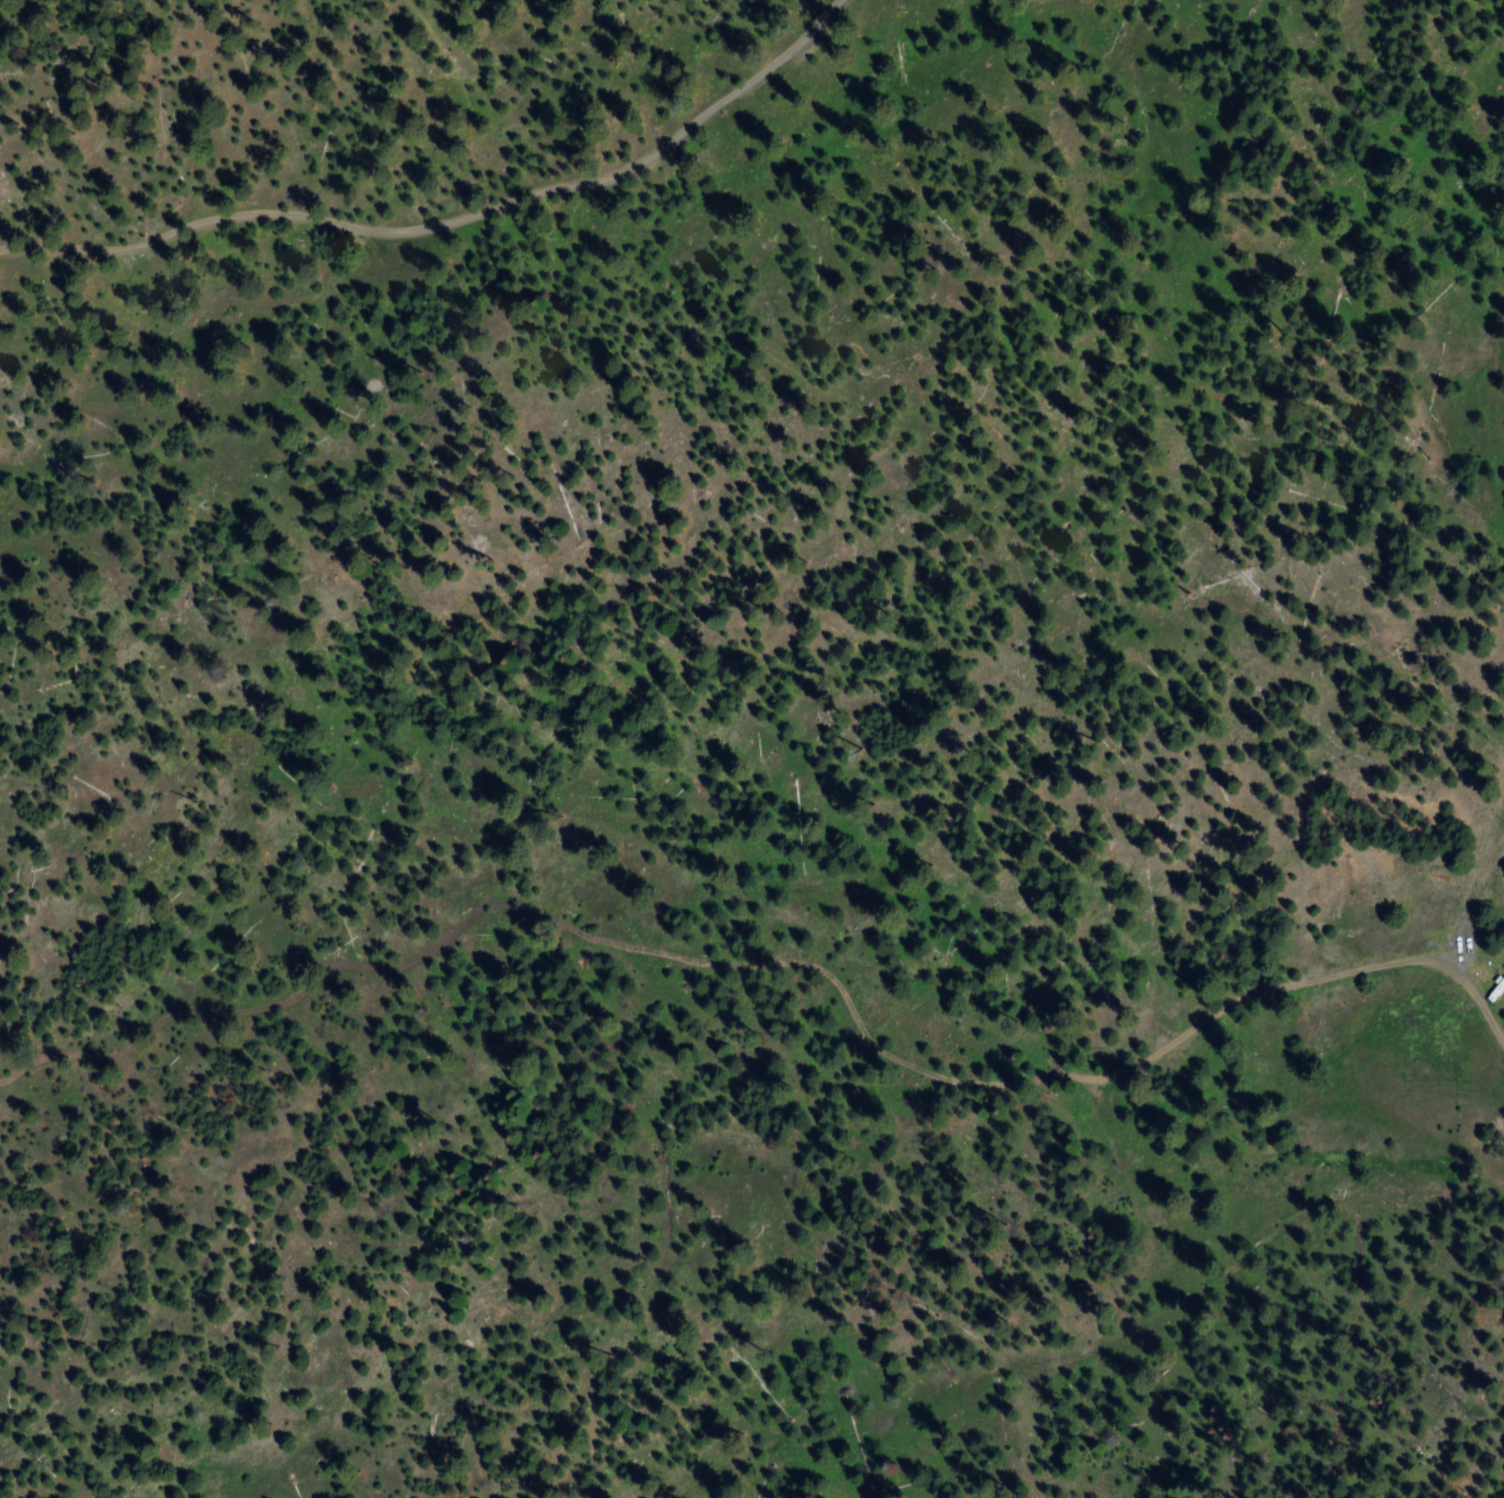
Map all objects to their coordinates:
road: (444, 196)

